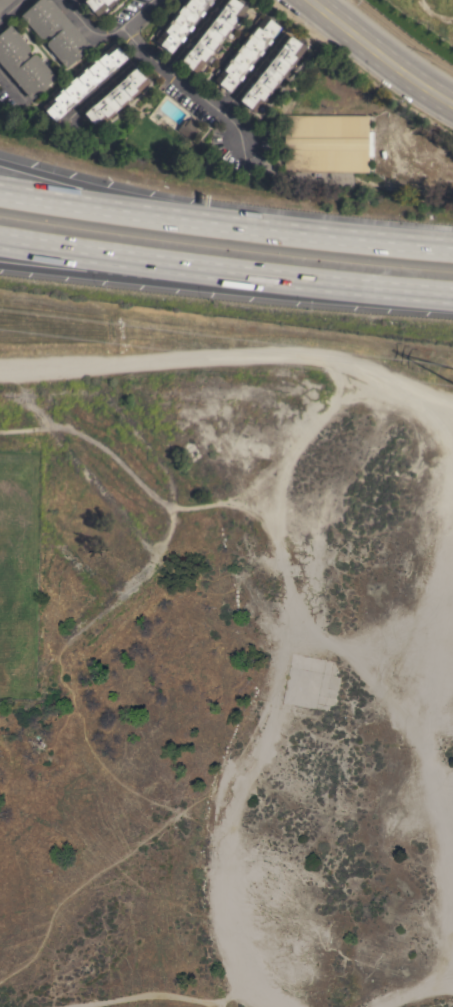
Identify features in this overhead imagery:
building: (4, 3)
road: (69, 4)
building: (101, 6)
road: (11, 9)
building: (44, 17)
road: (145, 18)
building: (180, 24)
road: (86, 33)
road: (193, 33)
building: (214, 34)
building: (68, 43)
building: (12, 49)
building: (247, 53)
road: (379, 54)
road: (251, 72)
building: (273, 73)
building: (33, 75)
building: (87, 80)
road: (108, 83)
road: (192, 84)
road: (56, 86)
building: (117, 97)
building: (188, 128)
building: (326, 143)
road: (98, 190)
road: (98, 206)
road: (324, 236)
road: (225, 273)
road: (226, 280)
road: (232, 353)
park: (19, 570)
road: (142, 995)

